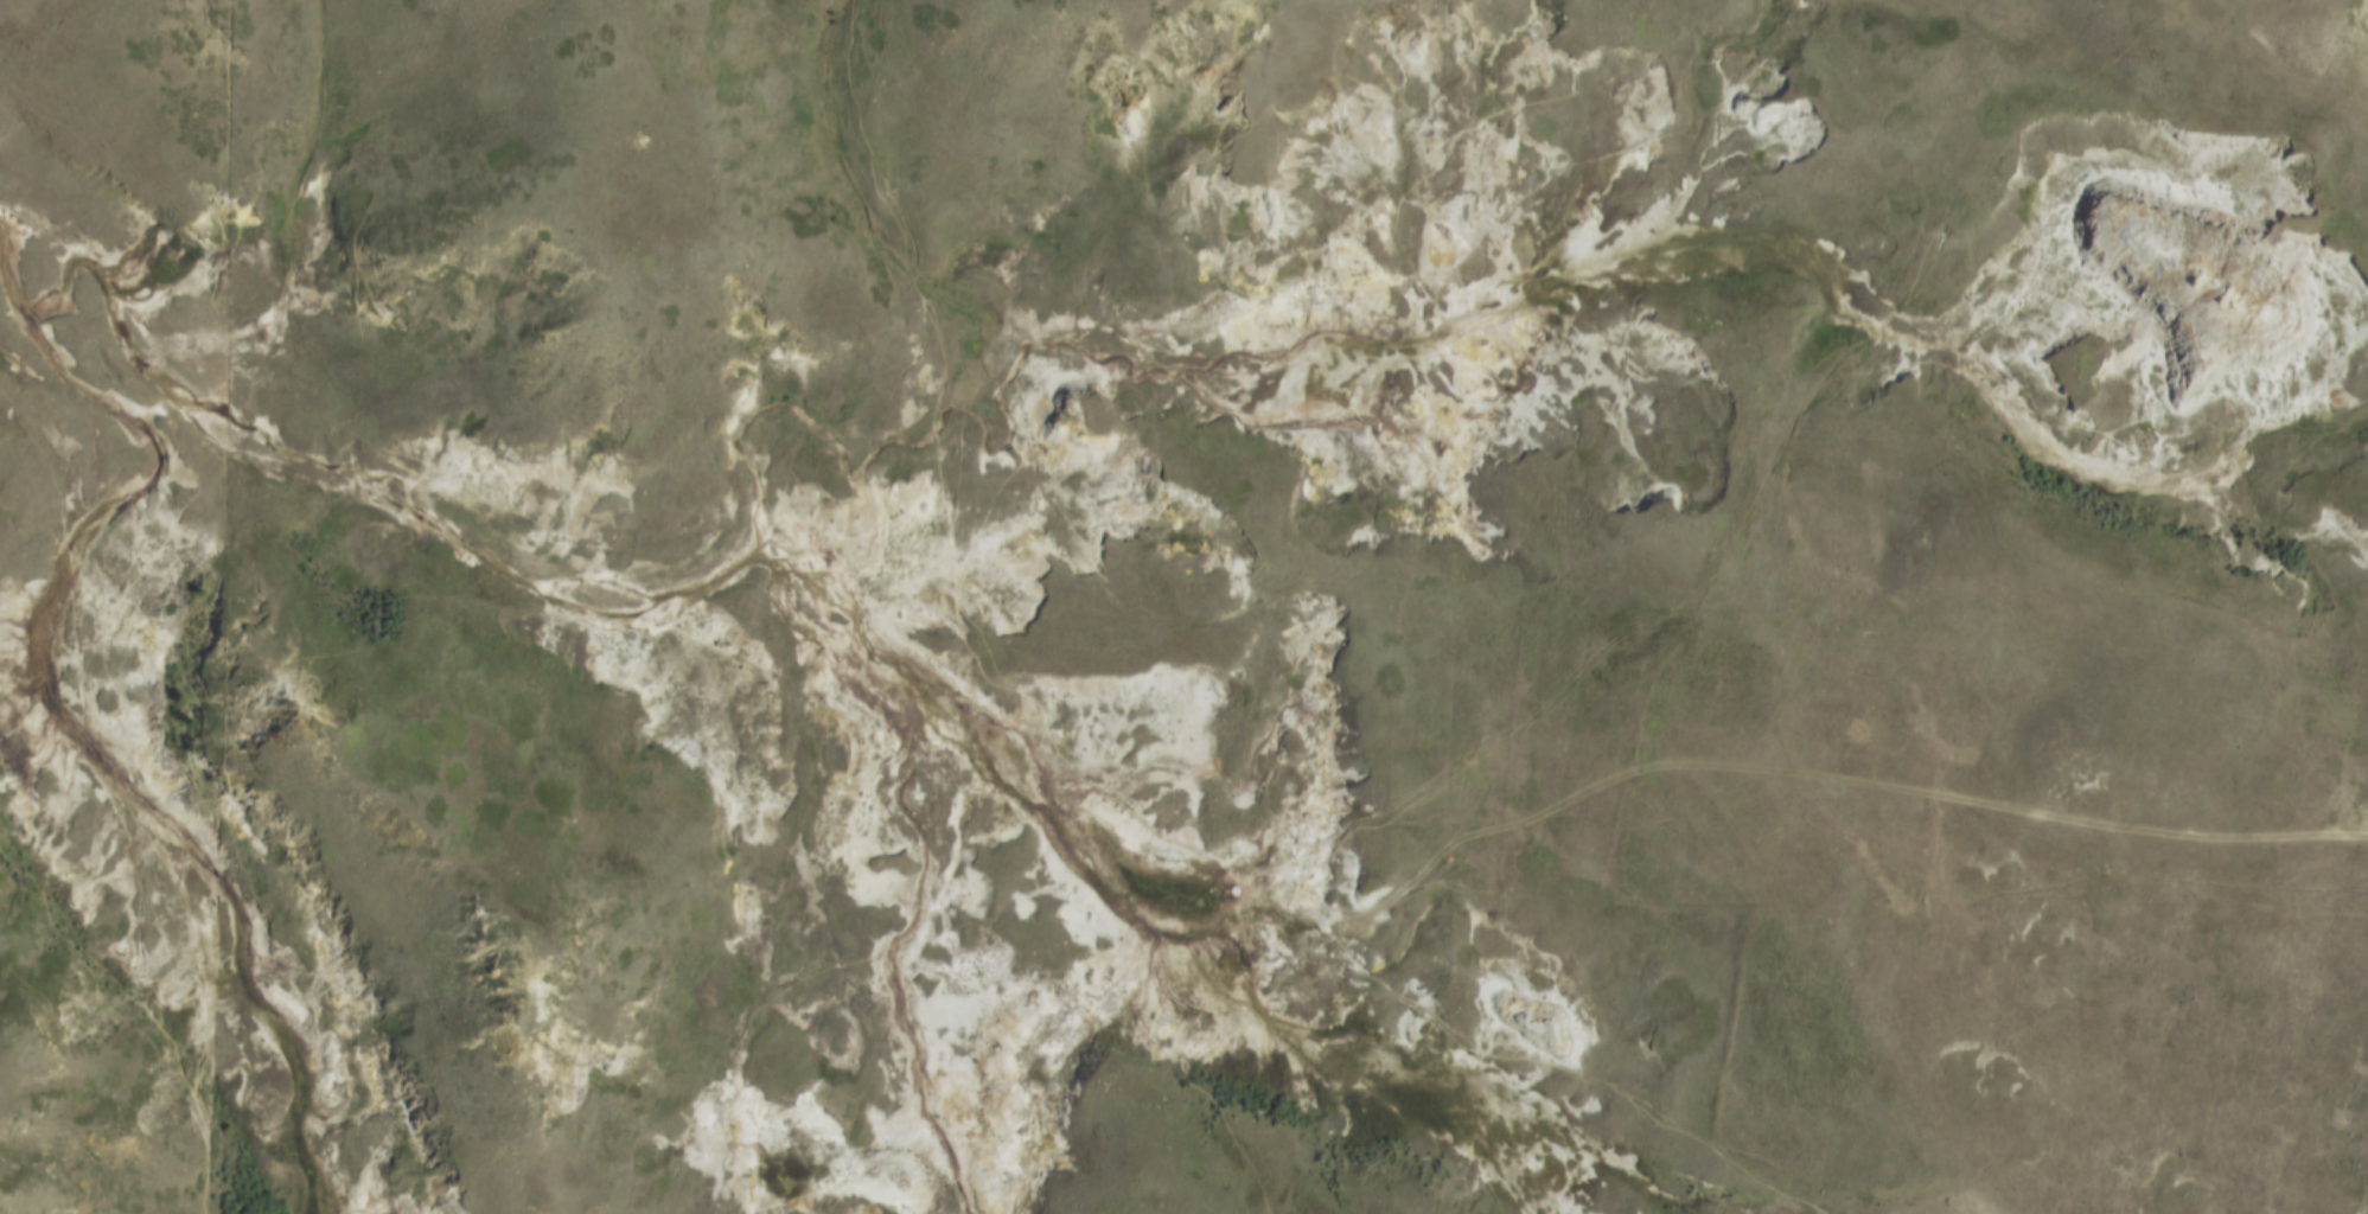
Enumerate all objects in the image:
road: (1901, 788)

